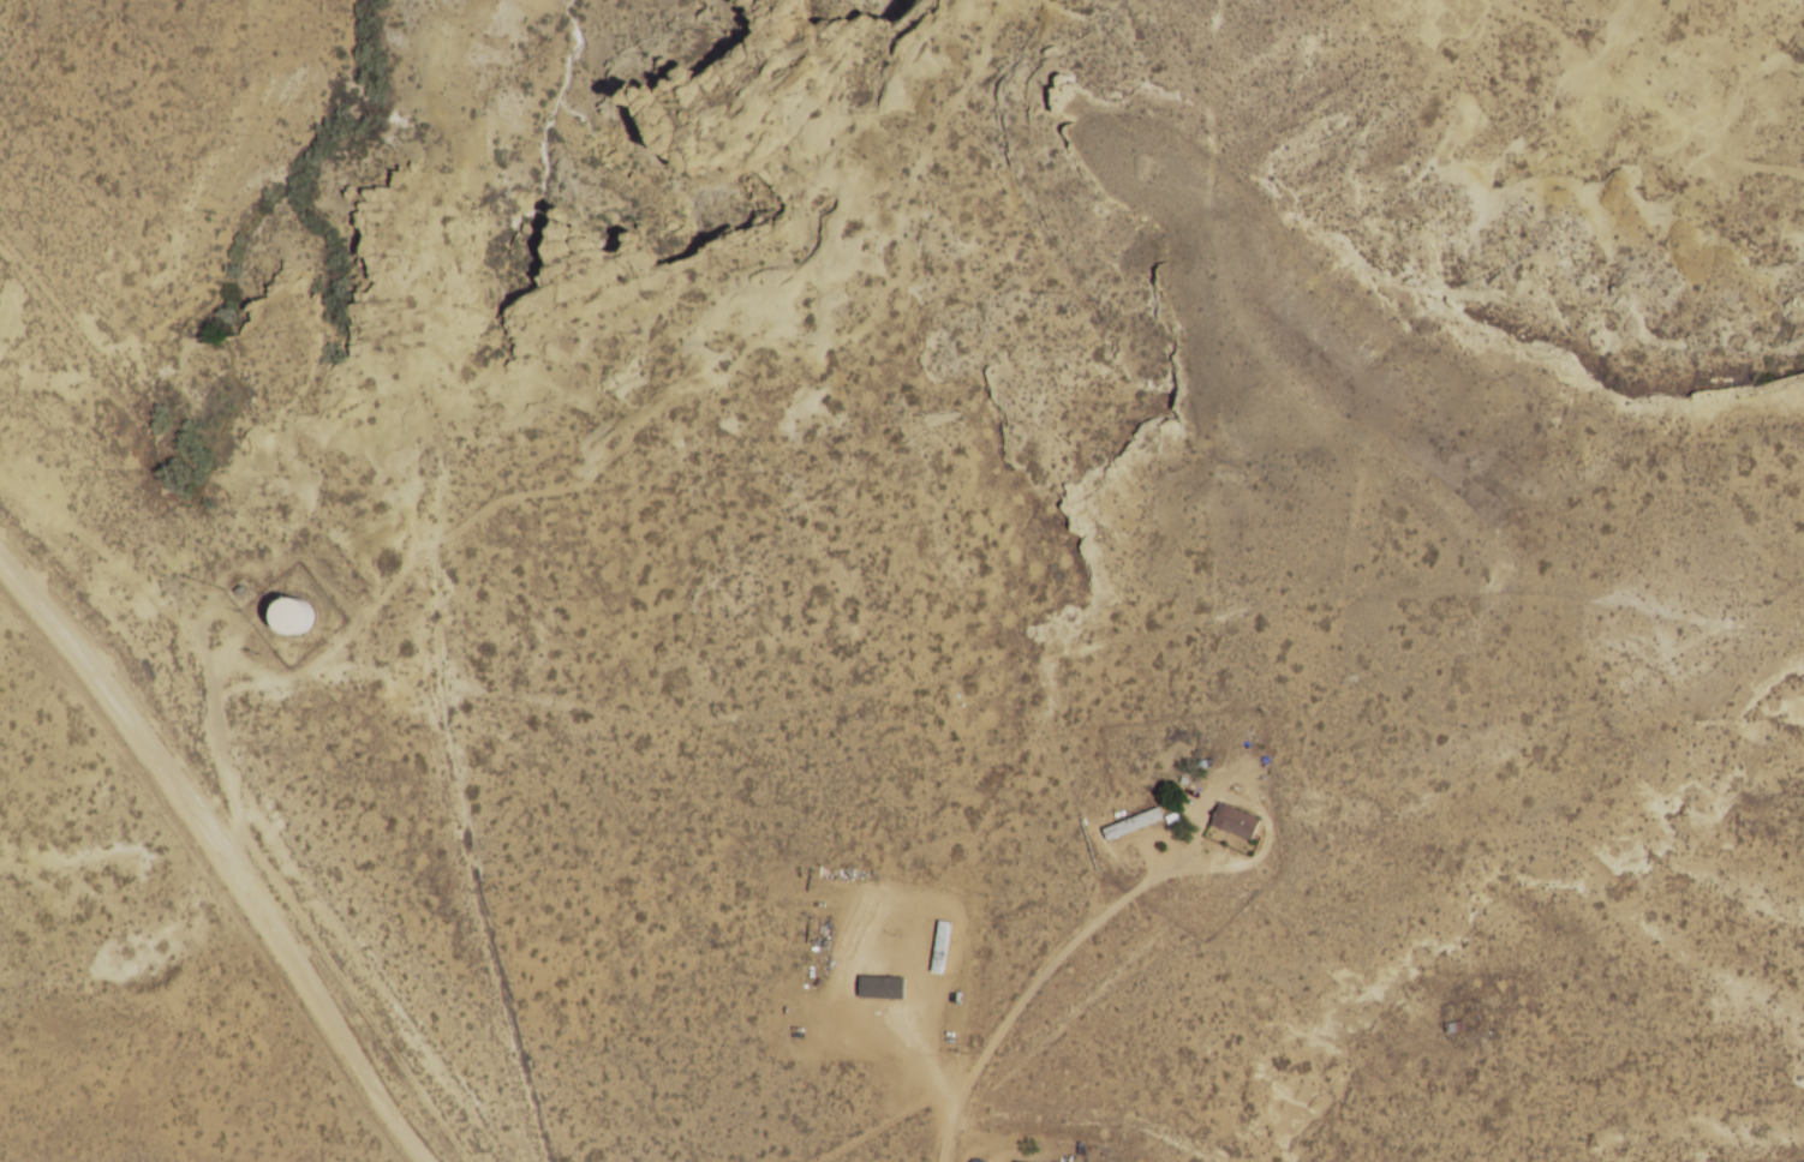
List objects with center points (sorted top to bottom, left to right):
road: (554, 587)
building: (287, 617)
building: (1235, 821)
building: (1131, 823)
road: (240, 841)
building: (870, 941)
road: (539, 1094)

